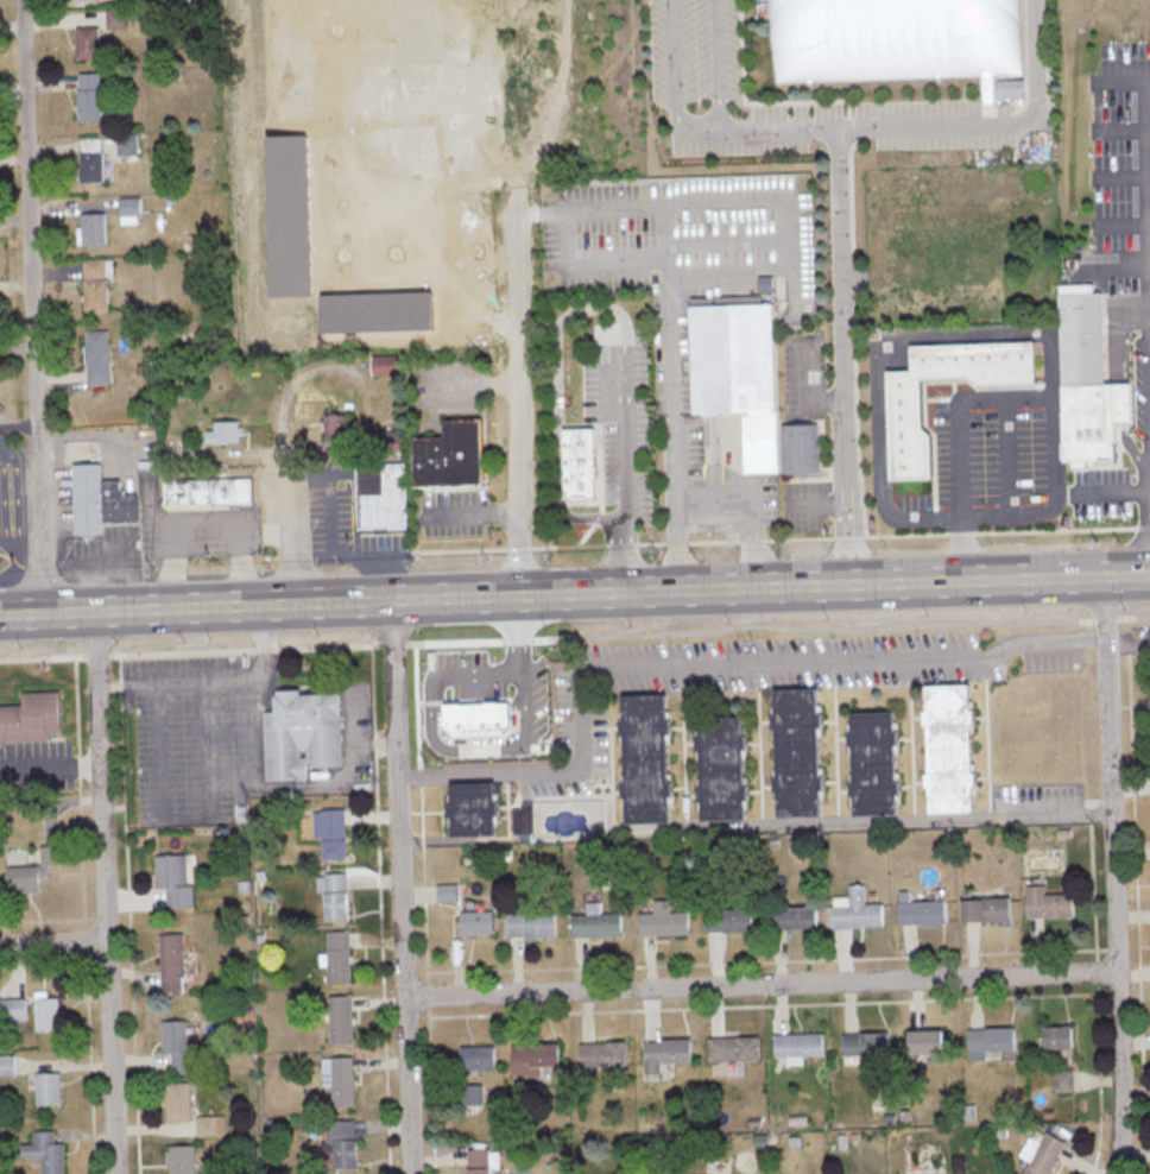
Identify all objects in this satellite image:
building: (115, 18)
park: (891, 38)
building: (87, 42)
building: (882, 52)
road: (671, 64)
road: (713, 64)
road: (1120, 80)
building: (88, 95)
road: (1149, 103)
road: (910, 126)
road: (1120, 128)
building: (90, 159)
road: (1120, 177)
road: (784, 202)
building: (128, 209)
road: (847, 215)
road: (1123, 225)
building: (93, 227)
road: (727, 242)
road: (1118, 258)
road: (589, 263)
road: (728, 270)
road: (668, 277)
building: (94, 284)
road: (589, 305)
road: (31, 307)
road: (1127, 337)
road: (842, 355)
building: (96, 356)
building: (386, 364)
building: (737, 374)
building: (1088, 380)
road: (518, 386)
road: (1129, 403)
building: (903, 405)
building: (335, 425)
building: (225, 431)
road: (623, 436)
road: (1135, 447)
building: (462, 450)
road: (17, 452)
road: (1005, 455)
road: (556, 457)
road: (279, 460)
building: (426, 460)
building: (579, 462)
building: (189, 491)
building: (233, 491)
road: (1119, 492)
building: (380, 496)
building: (99, 499)
road: (751, 503)
road: (816, 504)
road: (962, 516)
road: (203, 518)
road: (714, 524)
road: (779, 538)
road: (676, 544)
road: (330, 549)
road: (18, 550)
road: (311, 550)
road: (619, 558)
road: (574, 594)
road: (575, 636)
road: (263, 642)
road: (1127, 643)
road: (703, 661)
building: (31, 717)
building: (302, 733)
building: (647, 758)
road: (291, 784)
building: (474, 808)
road: (187, 819)
road: (866, 823)
building: (331, 831)
building: (49, 857)
road: (1112, 875)
building: (24, 878)
building: (175, 879)
road: (400, 886)
building: (447, 891)
road: (102, 894)
building: (335, 895)
building: (1047, 902)
building: (987, 908)
building: (855, 911)
building: (923, 911)
building: (804, 916)
building: (727, 919)
building: (664, 920)
building: (476, 921)
building: (596, 922)
building: (533, 924)
road: (53, 943)
building: (339, 955)
building: (172, 961)
road: (762, 985)
building: (13, 1009)
building: (46, 1011)
building: (342, 1018)
building: (175, 1035)
building: (1060, 1037)
building: (991, 1041)
building: (865, 1042)
building: (925, 1043)
building: (800, 1044)
building: (733, 1048)
building: (665, 1053)
building: (604, 1054)
building: (478, 1058)
building: (535, 1058)
building: (341, 1079)
building: (49, 1087)
building: (476, 1093)
building: (178, 1100)
building: (210, 1124)
building: (343, 1142)
building: (46, 1151)
building: (1045, 1155)
building: (182, 1159)
building: (479, 1160)

